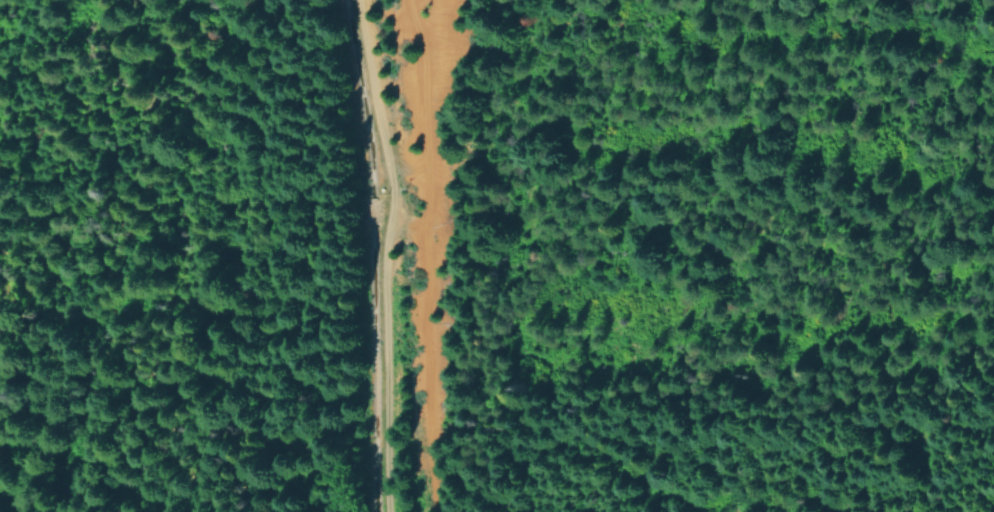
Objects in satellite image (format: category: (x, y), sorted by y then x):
road: (382, 254)

